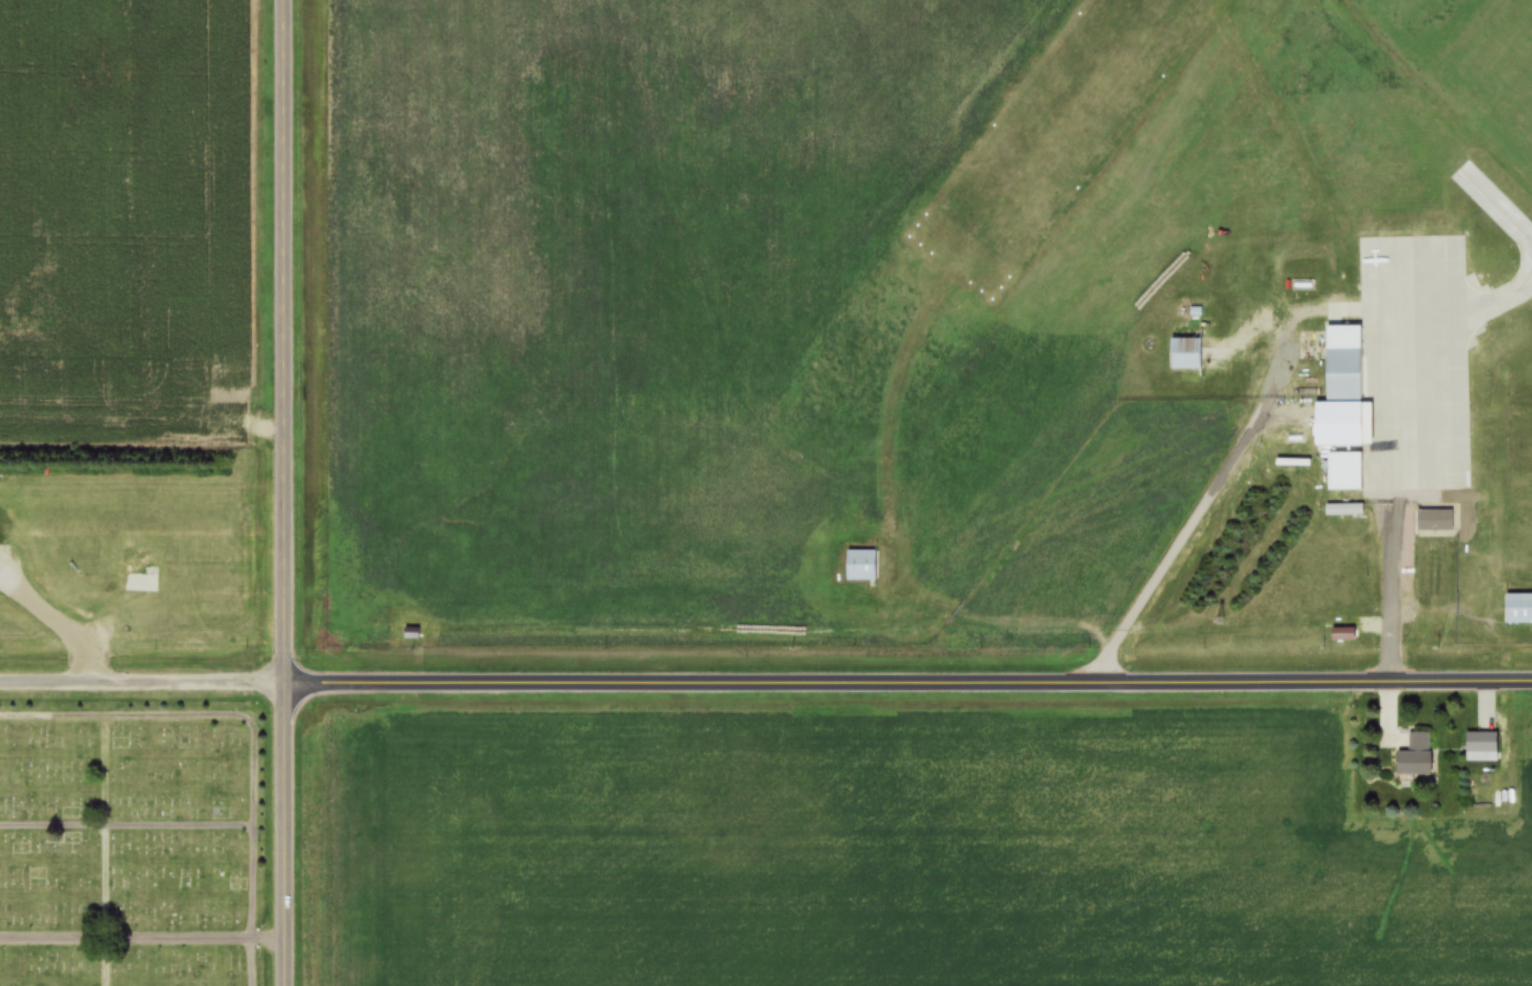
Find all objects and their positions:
airport runway: (998, 218)
building: (1529, 275)
airport taxiway: (1499, 299)
airport: (929, 323)
building: (1408, 339)
building: (1185, 355)
airport apron: (1415, 364)
building: (1344, 472)
road: (284, 493)
building: (1344, 511)
road: (1196, 518)
building: (861, 566)
building: (139, 573)
road: (1393, 587)
building: (1517, 608)
road: (58, 622)
road: (142, 683)
road: (908, 684)
road: (230, 717)
building: (1481, 743)
building: (1415, 756)
road: (142, 825)
road: (105, 851)
crop: (926, 853)
road: (142, 936)

